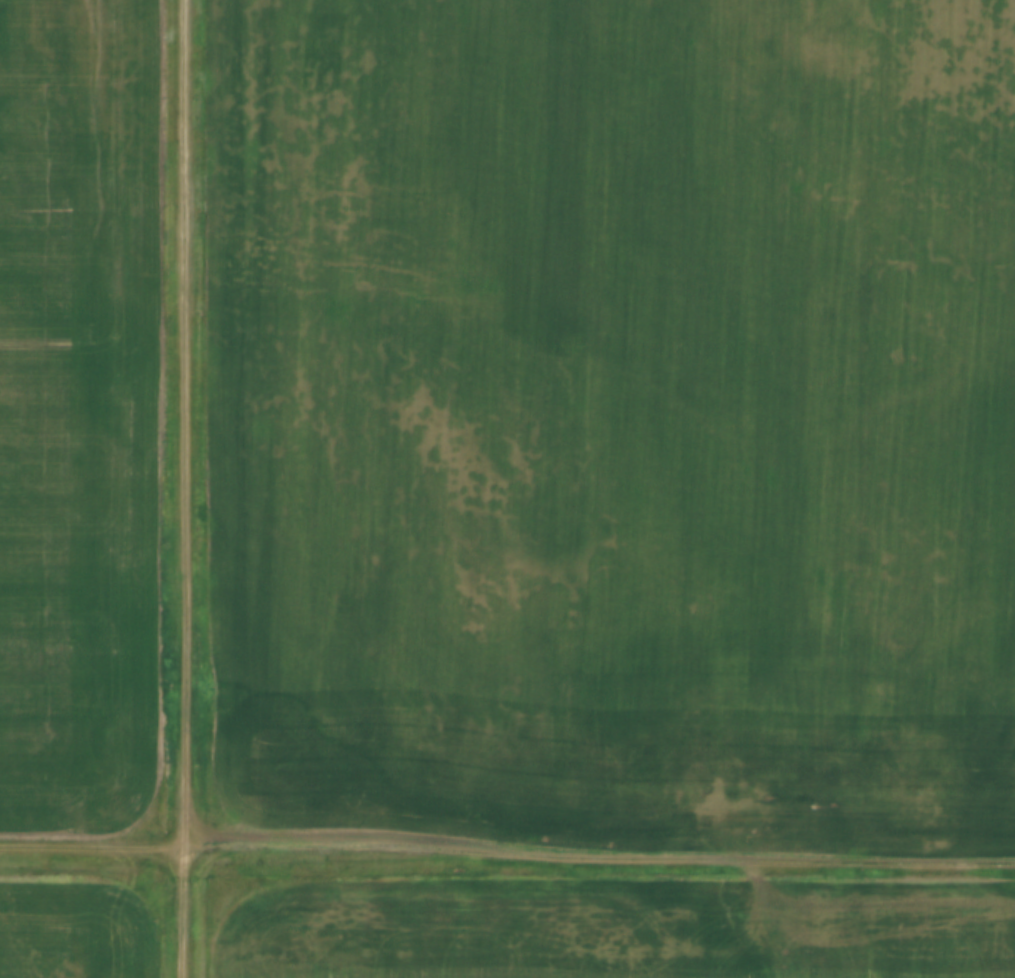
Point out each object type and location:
road: (190, 489)
road: (507, 854)

